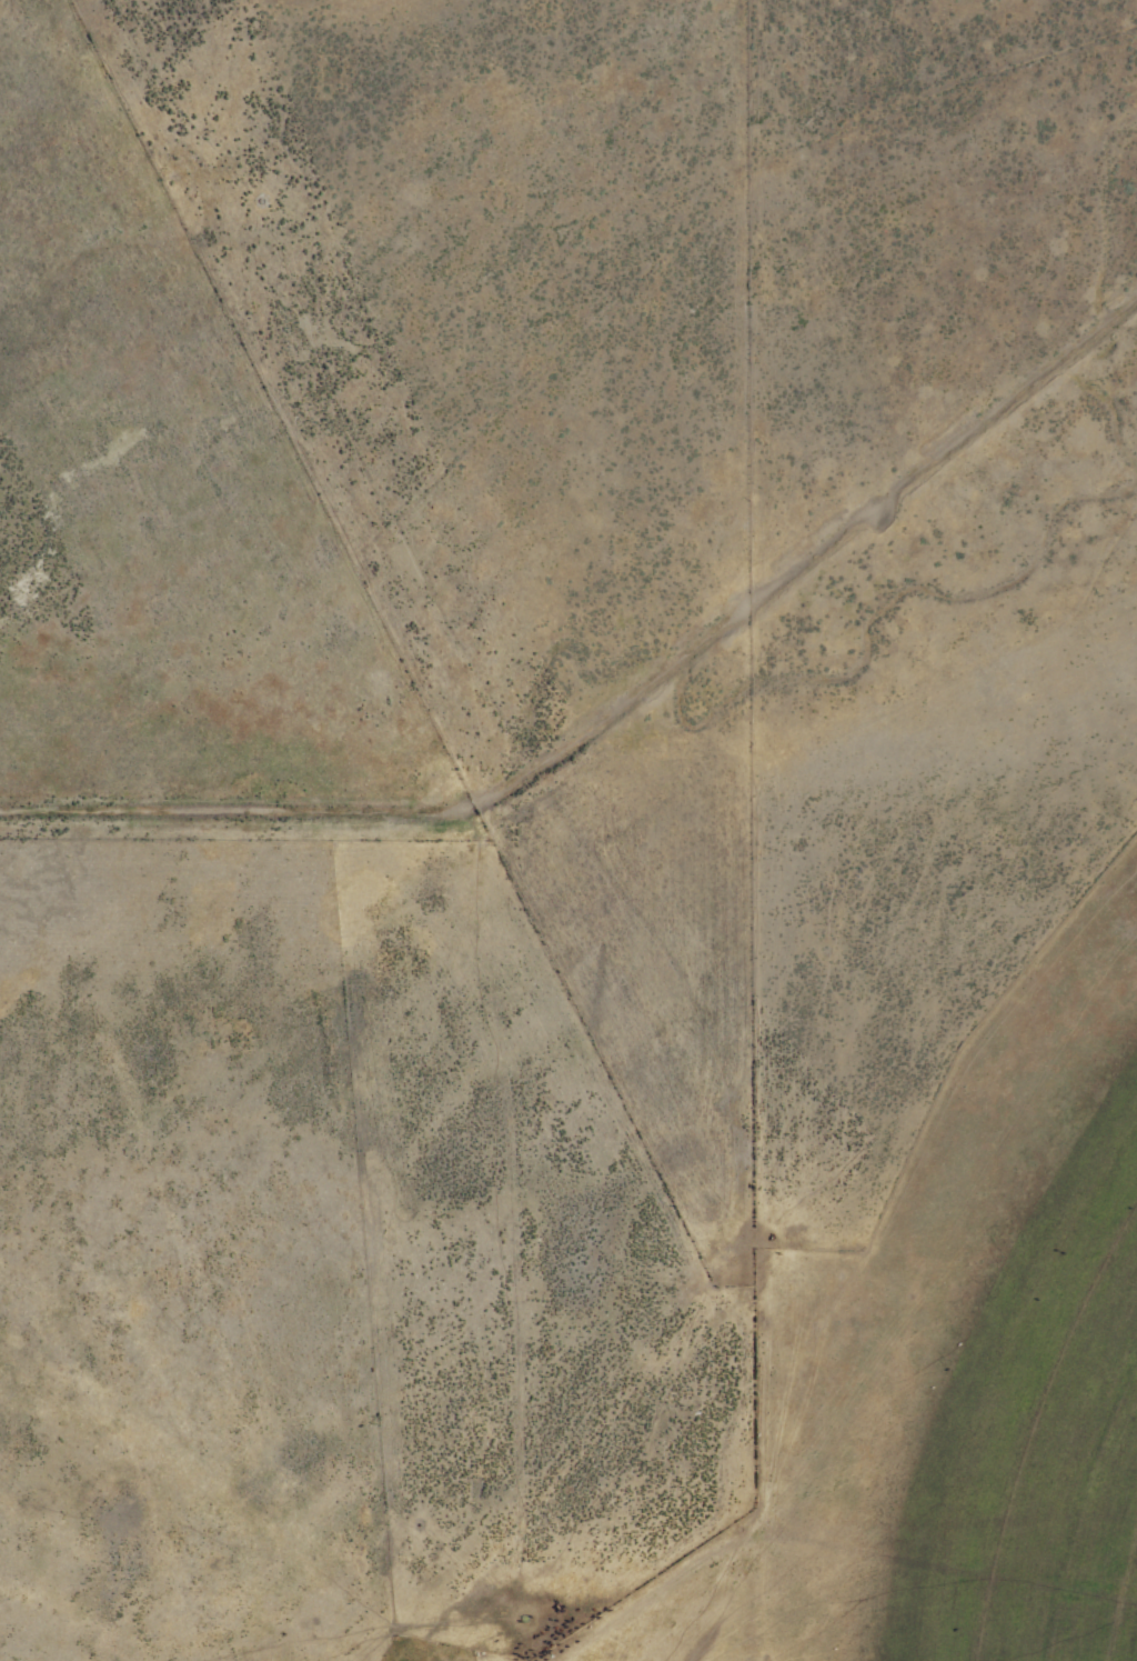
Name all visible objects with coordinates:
crop: (568, 830)

